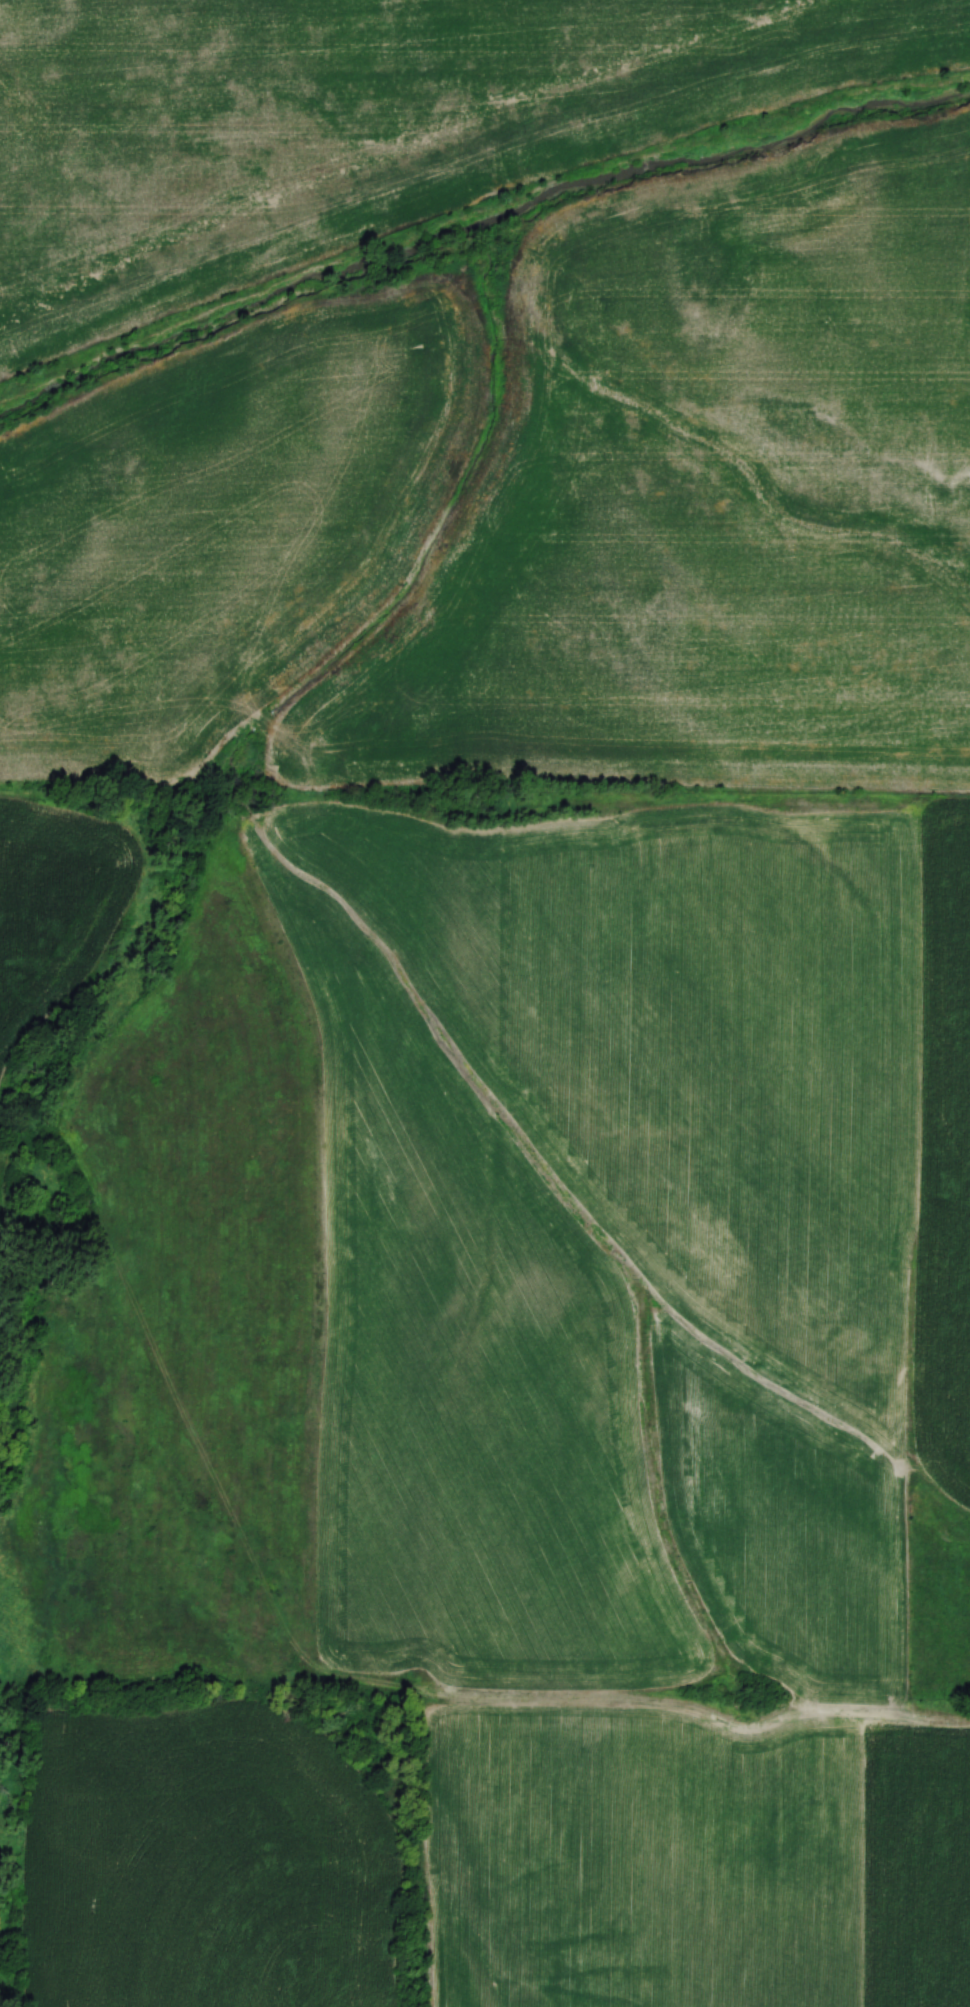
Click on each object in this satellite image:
river: (475, 225)

